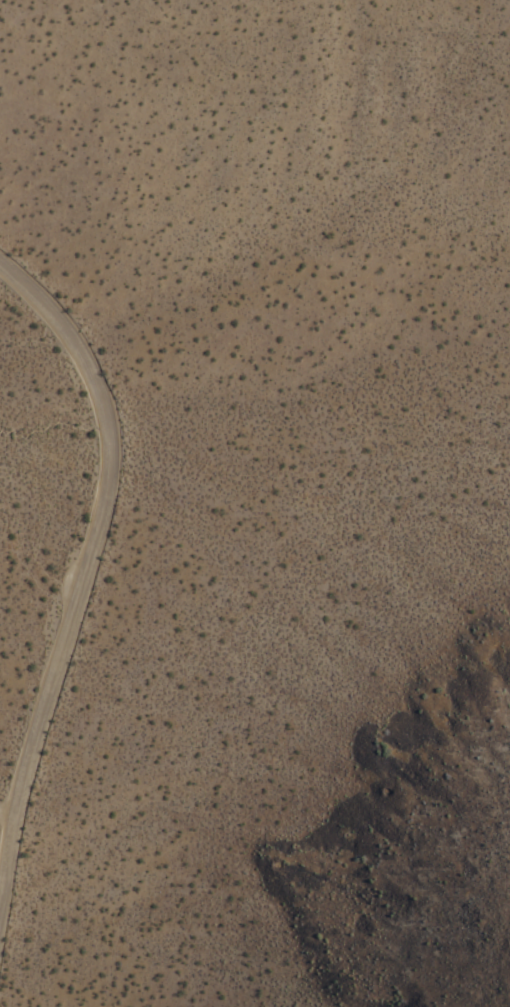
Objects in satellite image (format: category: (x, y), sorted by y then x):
road: (93, 543)
road: (2, 811)

